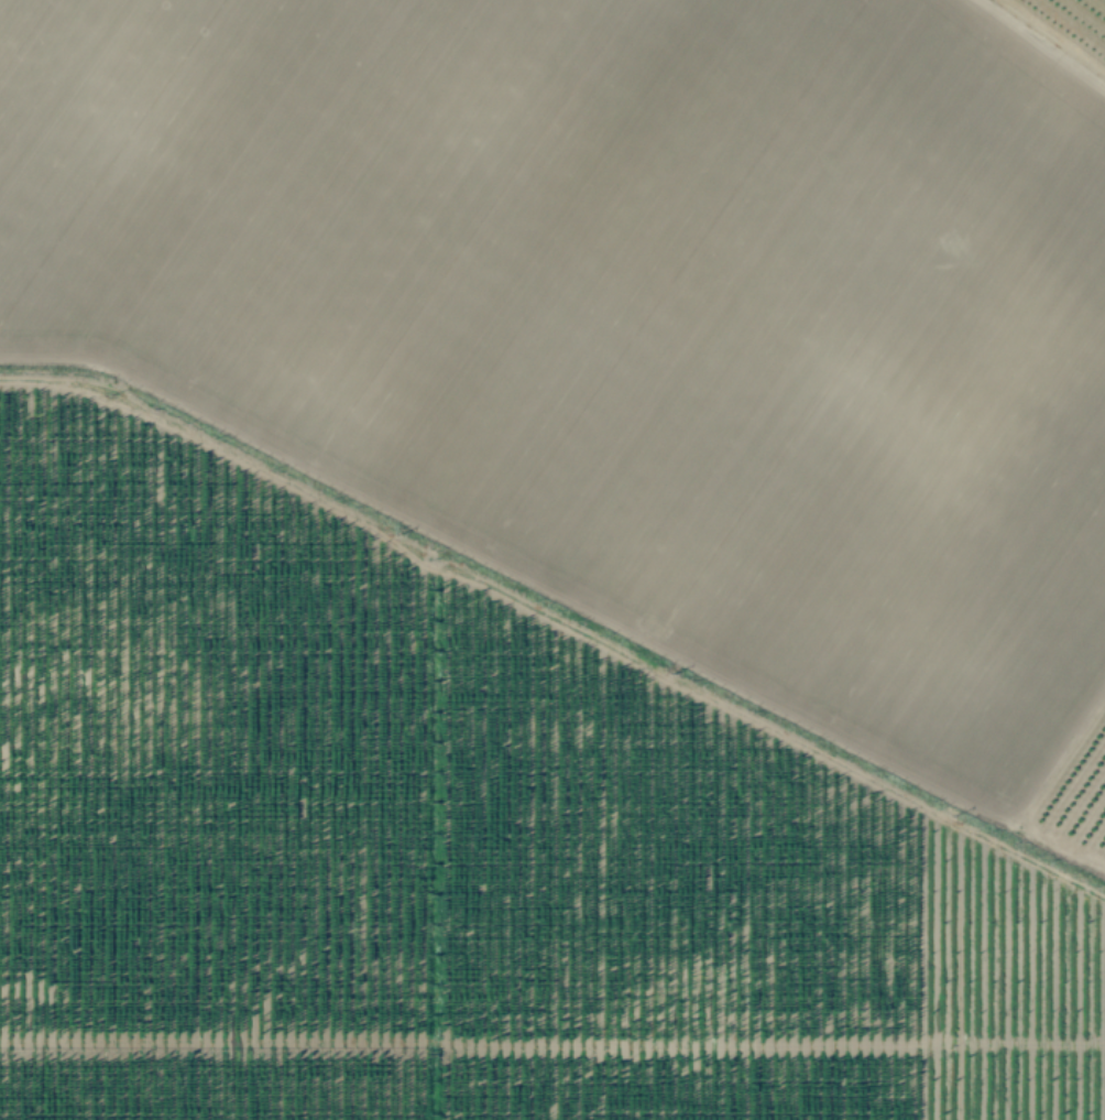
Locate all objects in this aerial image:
crop: (633, 309)

